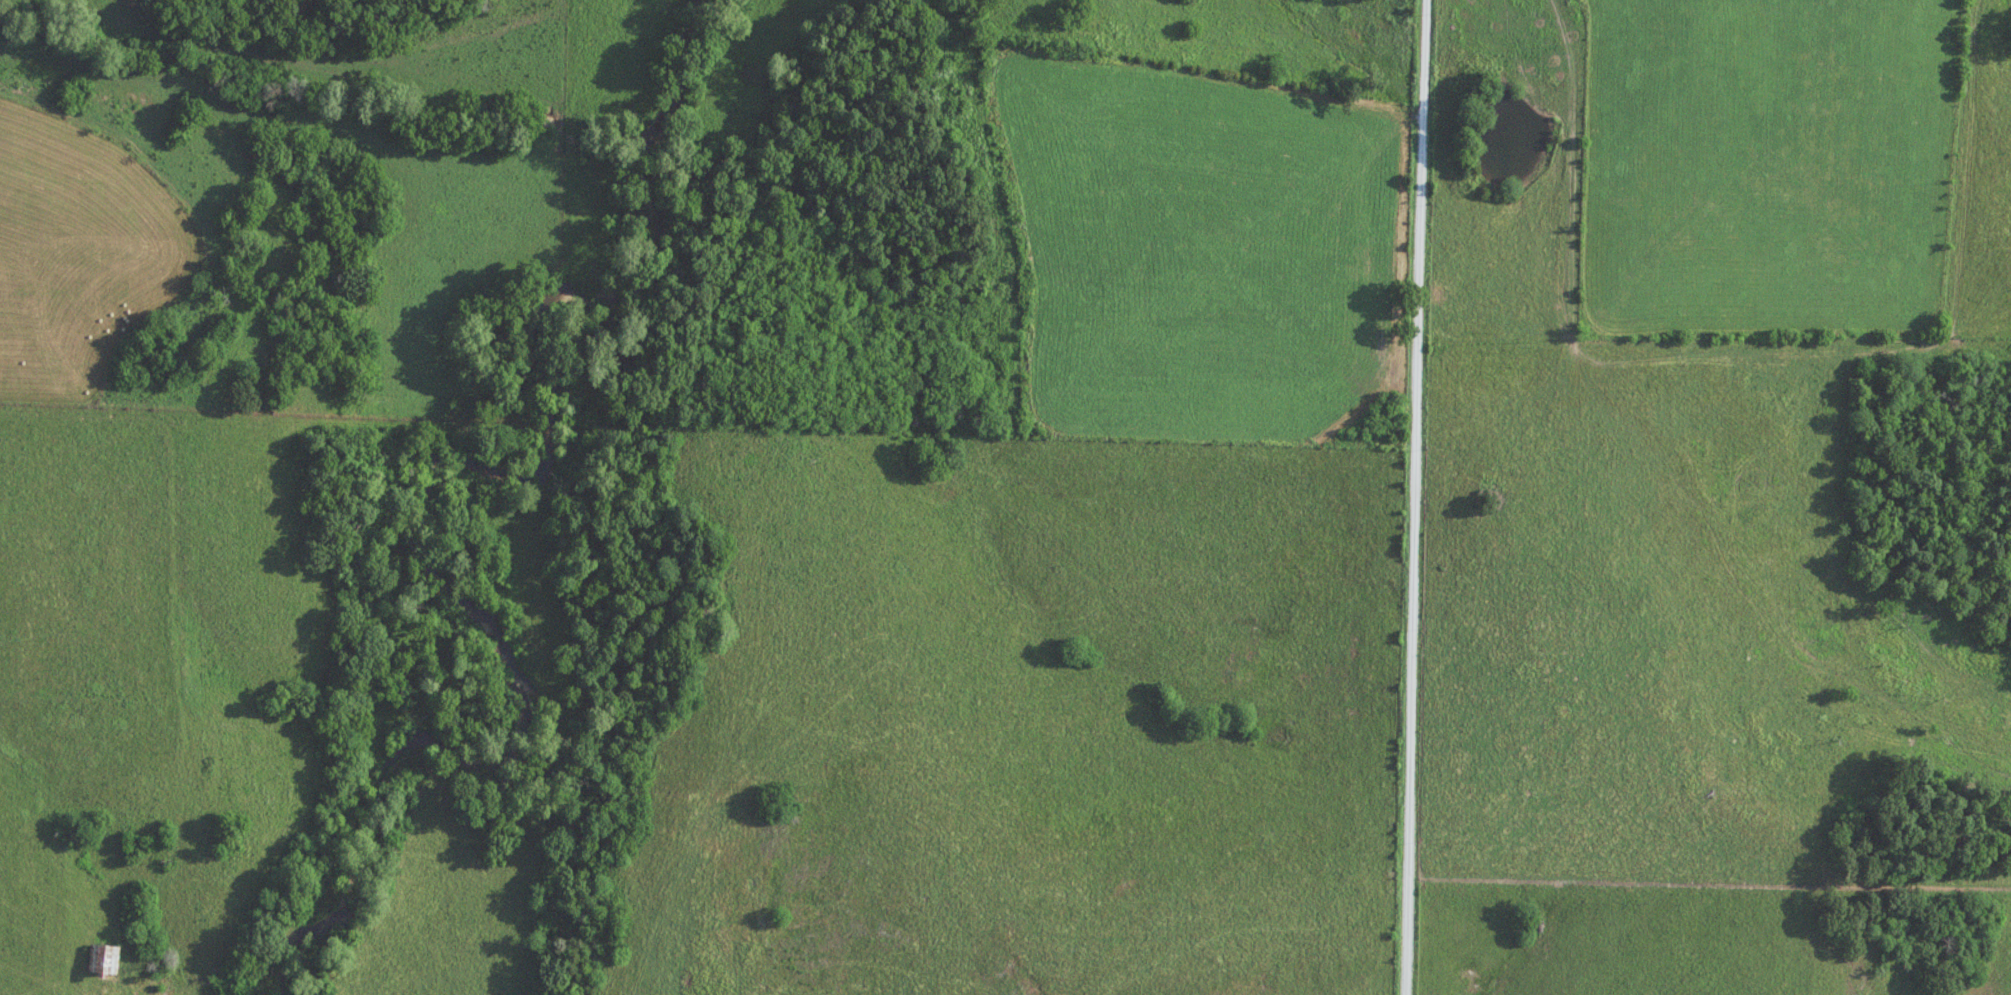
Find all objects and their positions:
road: (1417, 497)
building: (105, 962)

